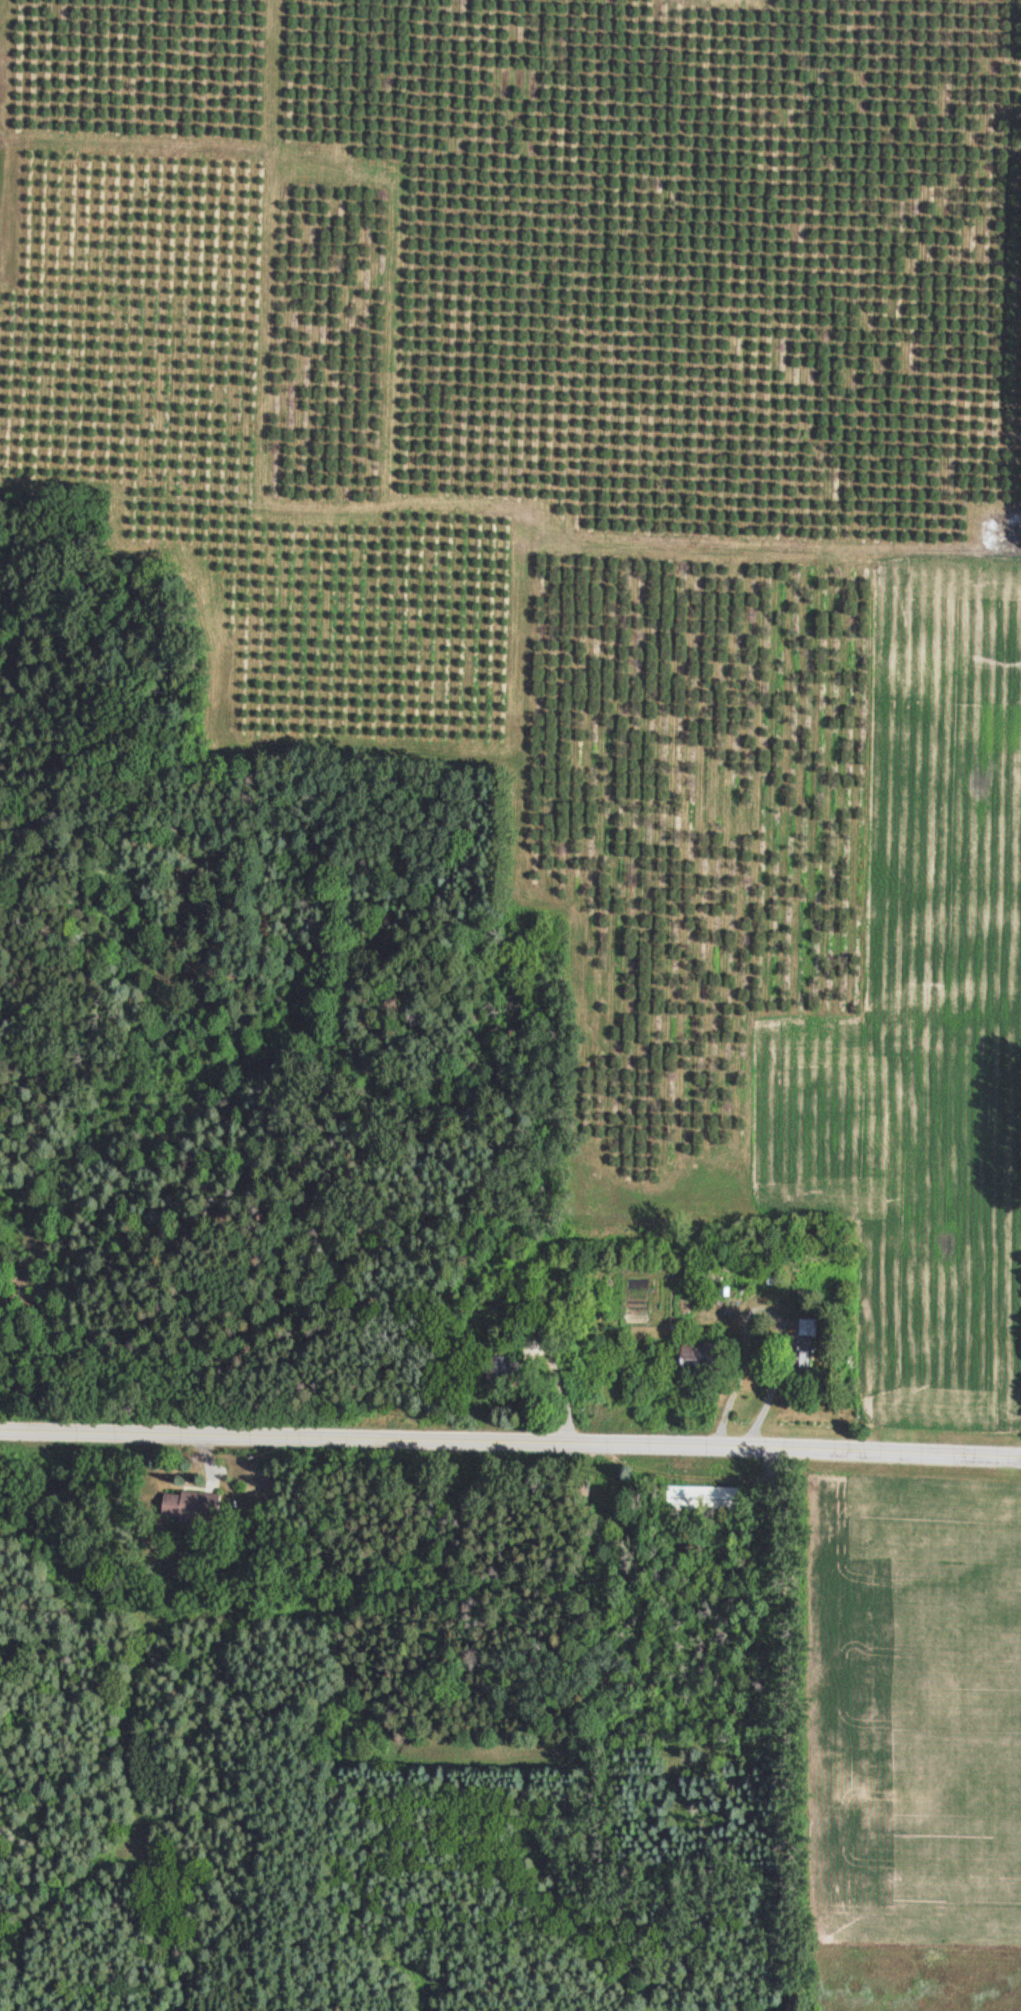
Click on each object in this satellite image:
building: (797, 1358)
building: (685, 1359)
road: (510, 1443)
building: (703, 1499)
building: (606, 1504)
building: (187, 1505)

